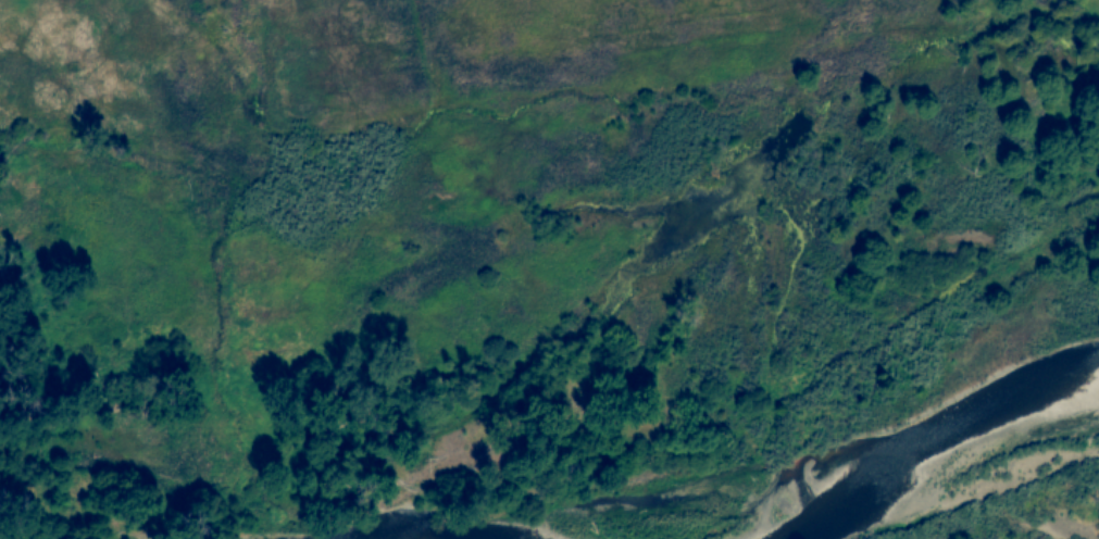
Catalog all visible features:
river: (904, 456)

